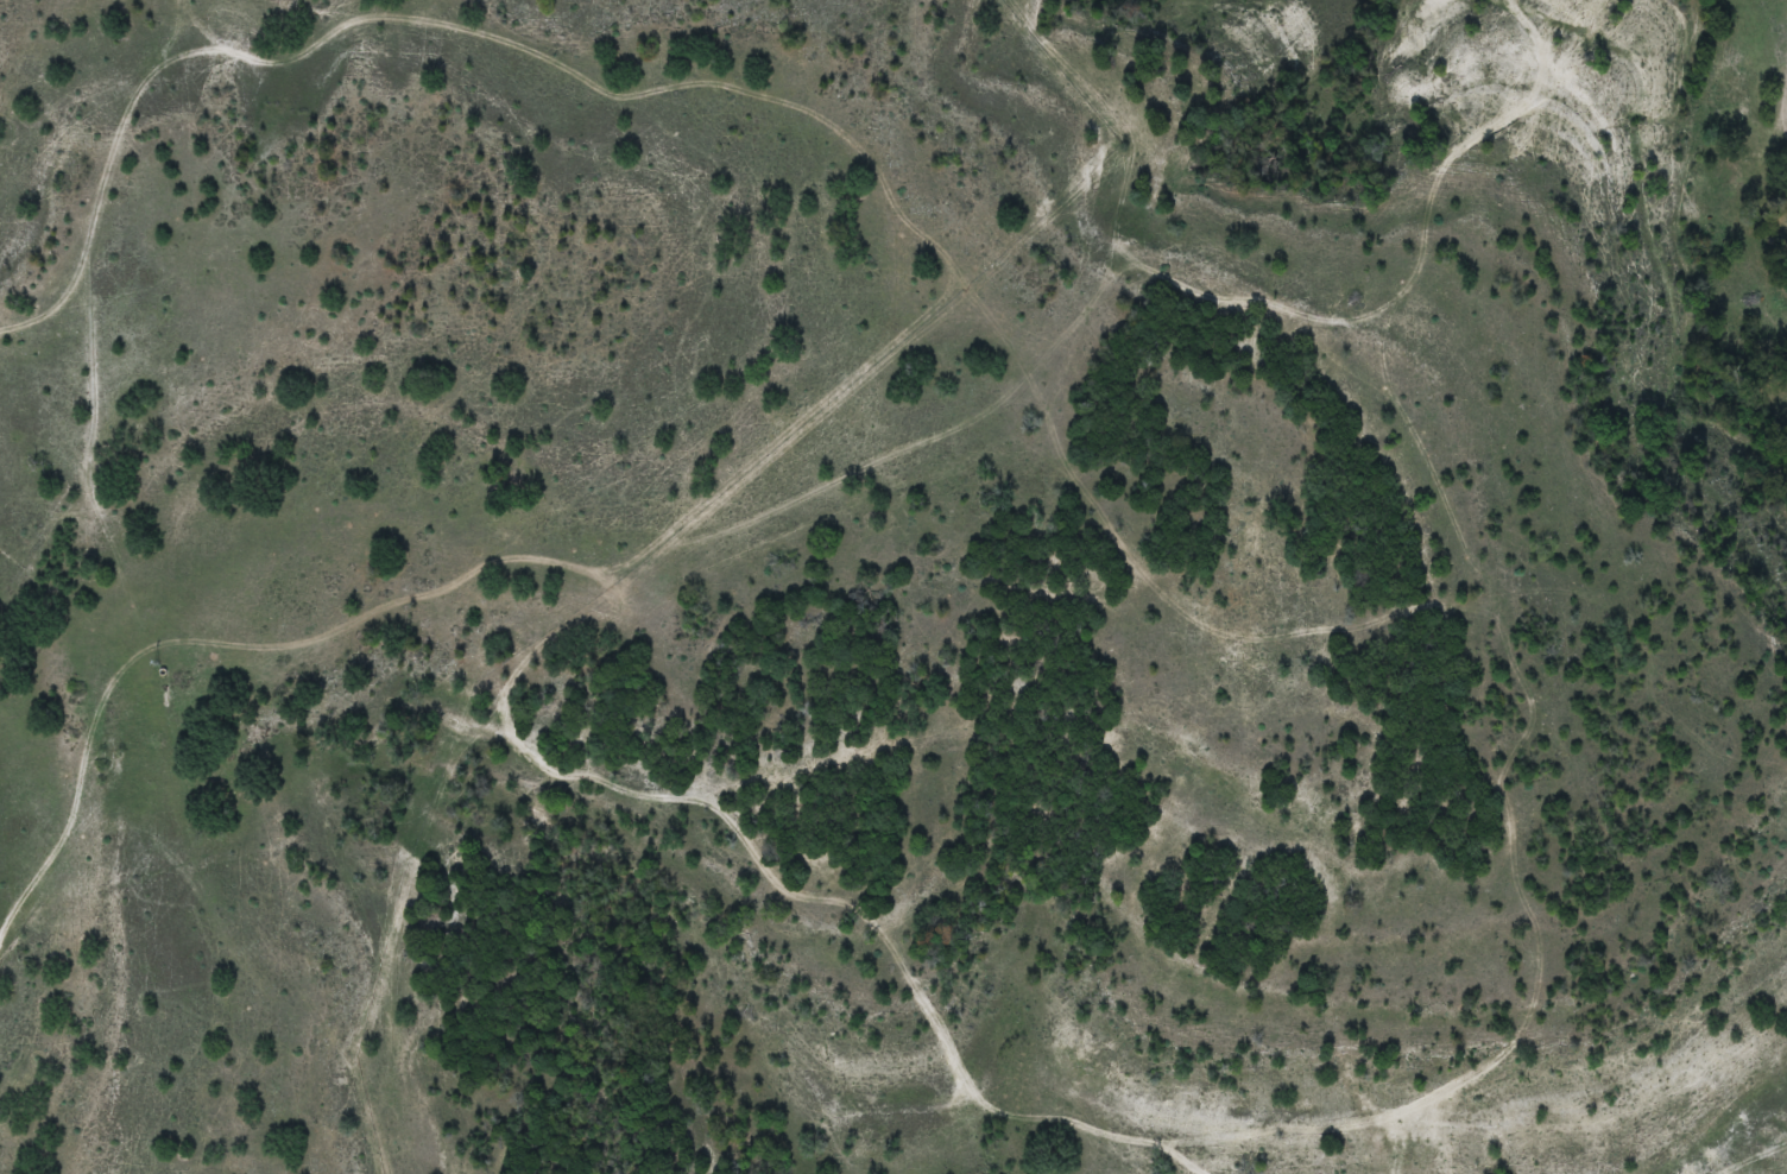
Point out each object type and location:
road: (173, 551)

